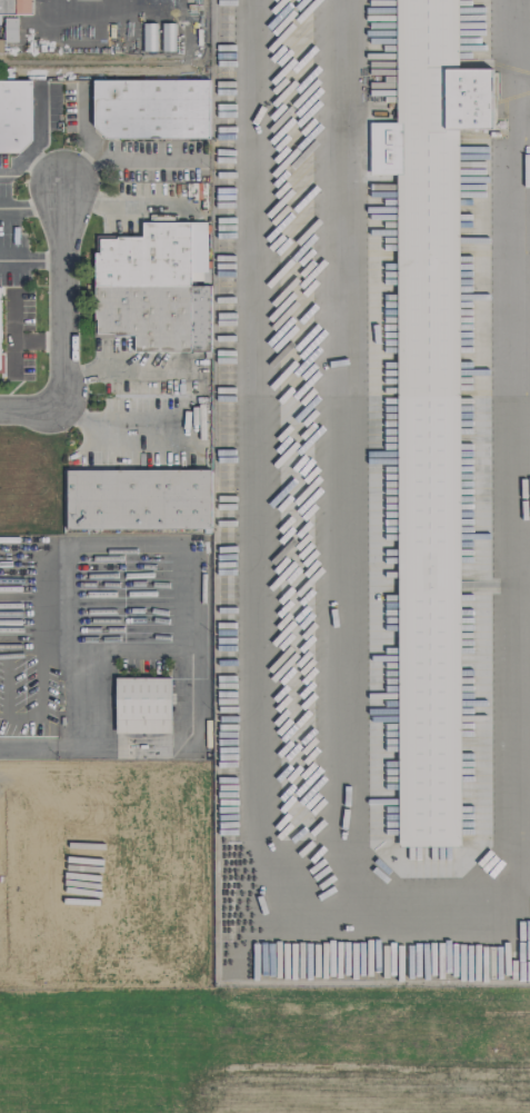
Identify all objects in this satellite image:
road: (164, 3)
building: (14, 7)
road: (108, 12)
building: (10, 28)
building: (151, 108)
building: (14, 115)
road: (121, 159)
road: (93, 200)
building: (154, 287)
road: (63, 296)
road: (11, 332)
road: (38, 341)
building: (0, 351)
road: (33, 408)
building: (428, 409)
road: (123, 433)
road: (341, 453)
building: (138, 499)
road: (270, 583)
road: (192, 675)
building: (142, 705)
road: (17, 746)

